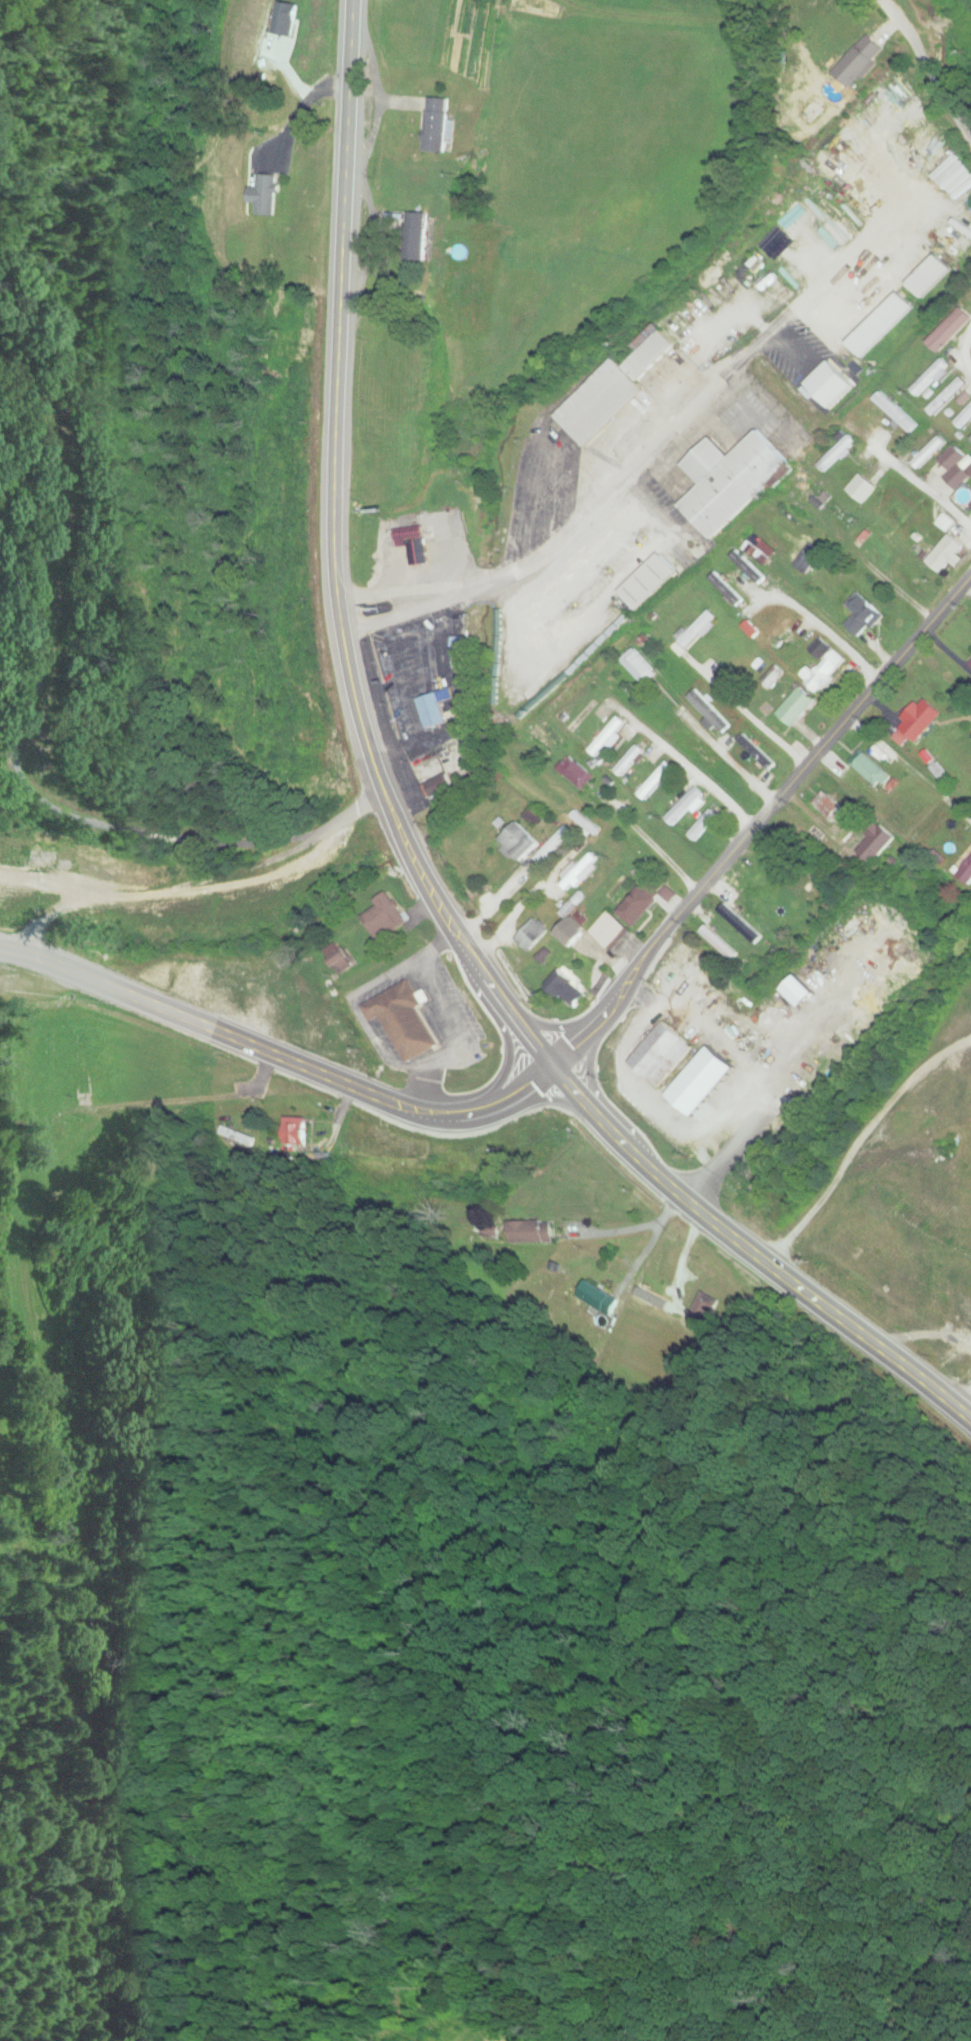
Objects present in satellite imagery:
building: (859, 61)
road: (926, 69)
building: (438, 128)
building: (847, 186)
building: (897, 233)
building: (796, 246)
building: (950, 330)
road: (954, 336)
building: (930, 377)
building: (612, 393)
building: (947, 396)
building: (895, 412)
building: (964, 417)
building: (969, 442)
road: (933, 451)
building: (930, 452)
building: (955, 468)
building: (730, 480)
building: (866, 491)
road: (943, 506)
building: (418, 547)
building: (873, 549)
building: (760, 550)
building: (945, 554)
building: (749, 568)
building: (647, 582)
building: (728, 589)
building: (863, 616)
building: (697, 630)
road: (831, 634)
building: (781, 639)
building: (970, 664)
building: (639, 667)
building: (773, 678)
building: (797, 708)
building: (434, 709)
building: (710, 712)
building: (920, 719)
building: (607, 739)
road: (681, 752)
building: (757, 753)
building: (887, 754)
road: (17, 760)
building: (628, 761)
building: (870, 769)
building: (576, 774)
building: (655, 781)
building: (438, 785)
building: (684, 807)
building: (830, 807)
road: (761, 820)
building: (585, 823)
road: (401, 825)
building: (703, 825)
building: (520, 842)
building: (876, 844)
building: (554, 845)
building: (347, 847)
building: (966, 873)
building: (579, 874)
building: (638, 904)
building: (257, 913)
building: (385, 917)
building: (741, 924)
building: (608, 931)
building: (572, 932)
building: (532, 936)
building: (719, 944)
building: (668, 979)
building: (404, 1021)
road: (270, 1045)
building: (661, 1055)
building: (294, 1132)
building: (452, 1135)
building: (236, 1136)
building: (385, 1146)
building: (530, 1146)
building: (530, 1232)
building: (701, 1313)

